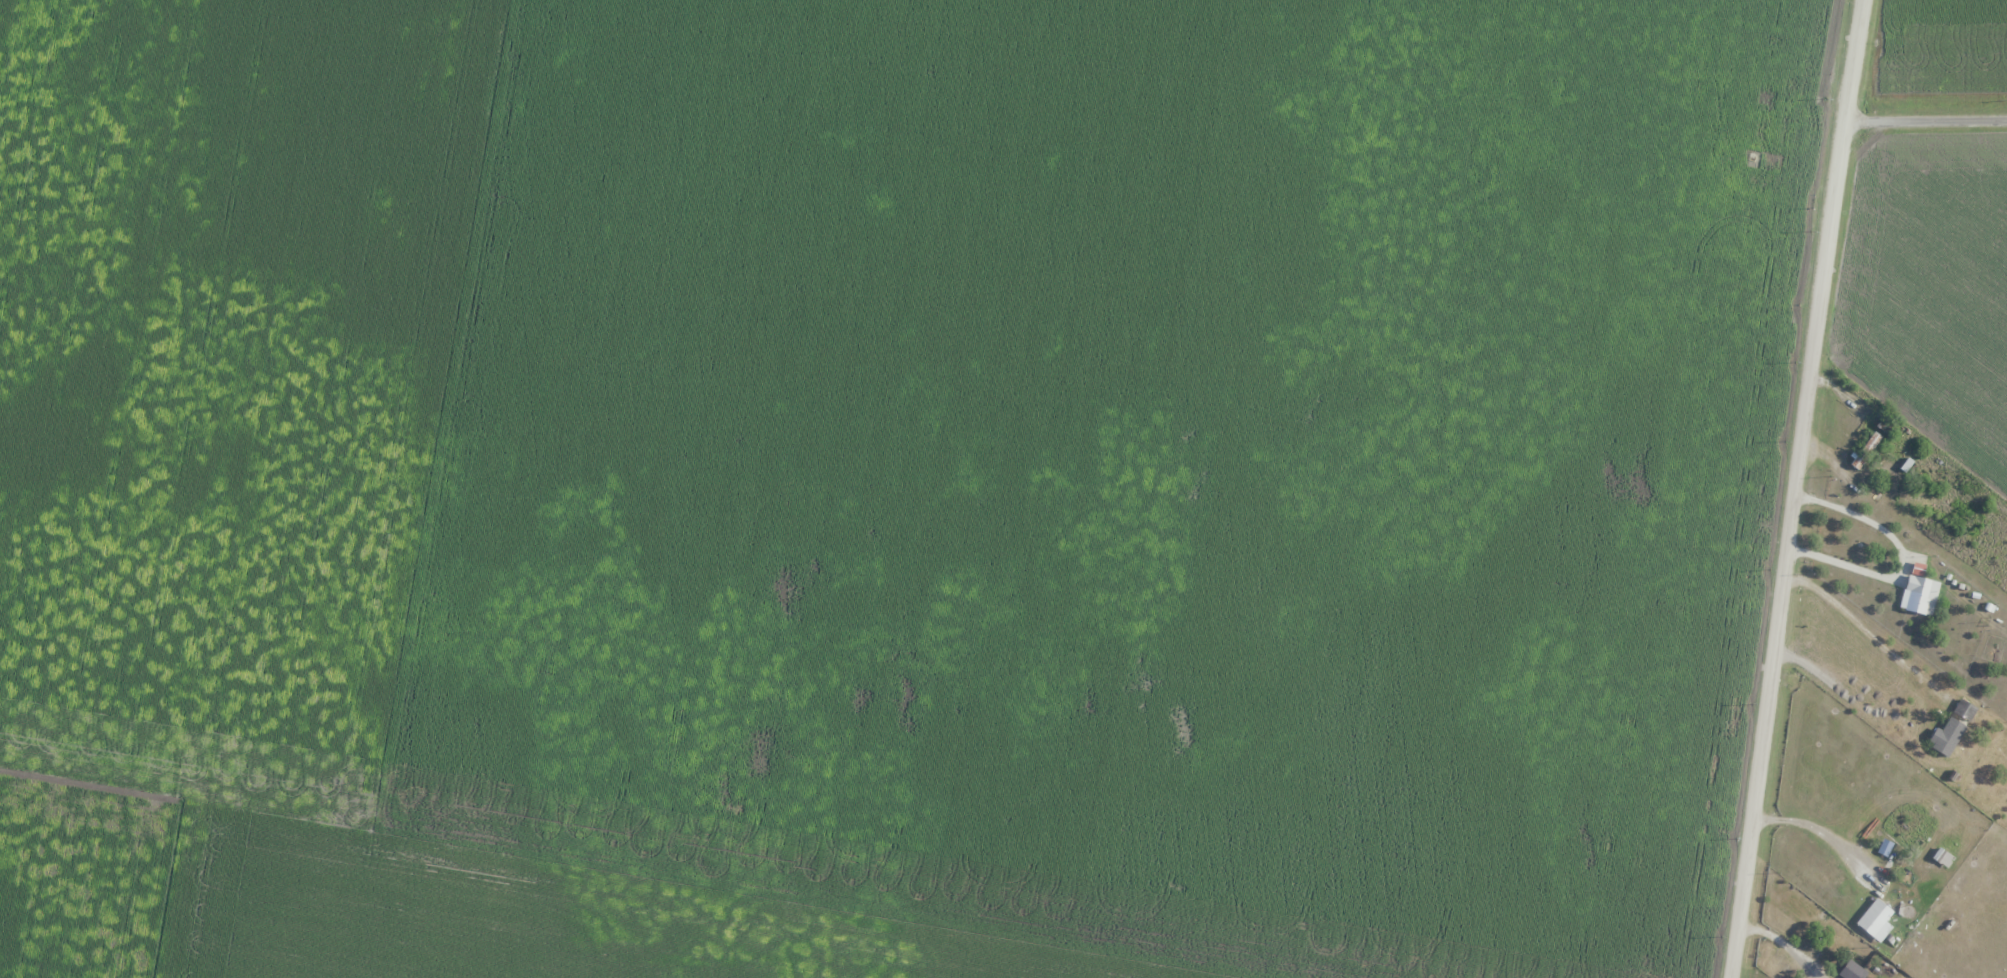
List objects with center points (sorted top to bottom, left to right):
road: (1926, 122)
building: (1865, 451)
road: (1796, 488)
building: (1919, 595)
building: (1951, 729)
building: (1906, 825)
building: (1944, 861)
building: (1873, 917)
road: (1781, 946)
building: (1853, 971)

